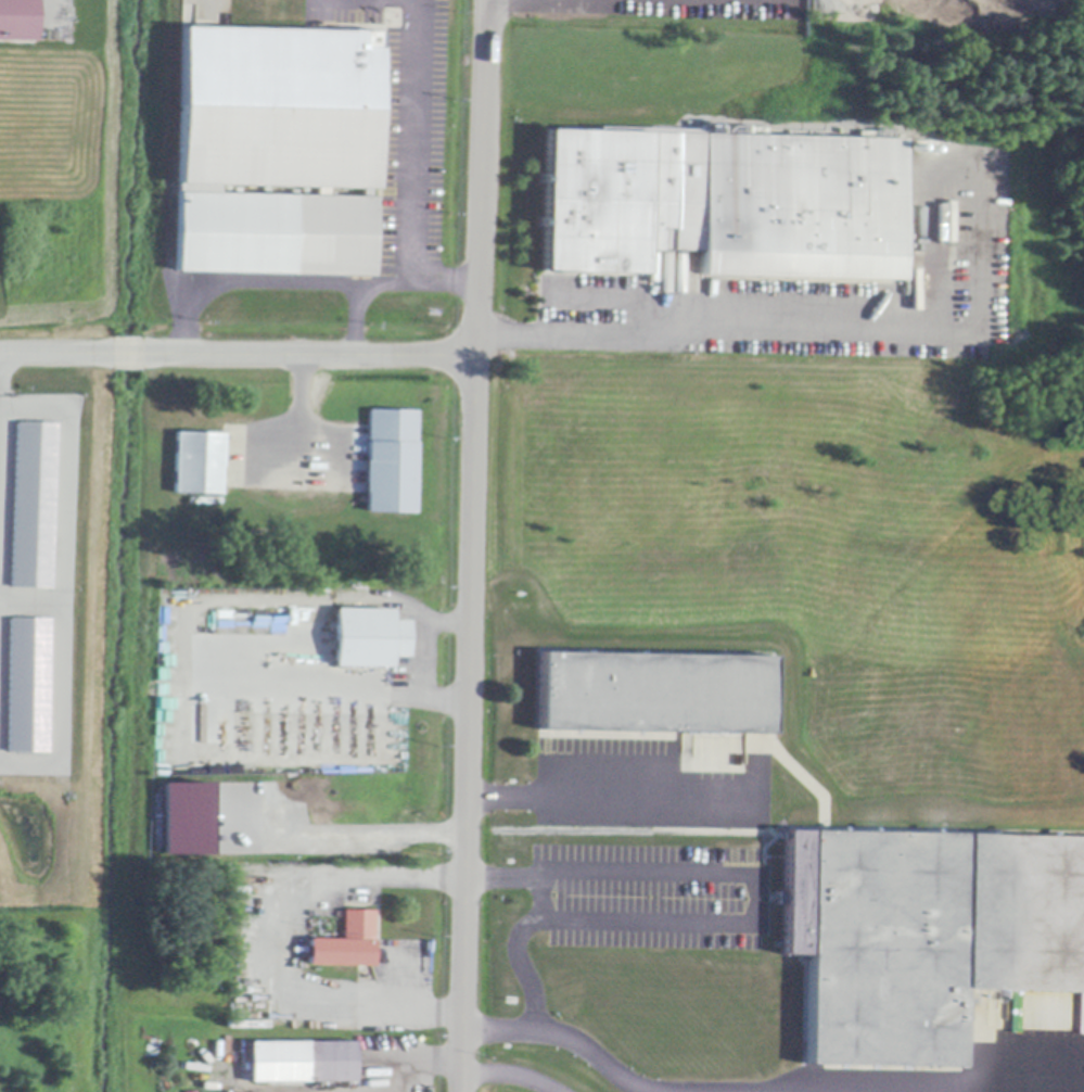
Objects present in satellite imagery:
building: (16, 21)
road: (412, 141)
building: (276, 153)
building: (723, 204)
road: (297, 282)
building: (715, 288)
road: (354, 320)
road: (694, 328)
road: (237, 357)
road: (298, 417)
building: (391, 462)
building: (199, 464)
building: (31, 505)
road: (470, 545)
road: (62, 586)
road: (30, 601)
building: (369, 639)
road: (422, 657)
building: (26, 685)
building: (655, 694)
building: (183, 817)
road: (538, 898)
road: (744, 918)
road: (273, 935)
building: (924, 936)
building: (346, 944)
road: (413, 1058)
building: (331, 1063)
road: (507, 1076)
road: (756, 1090)

